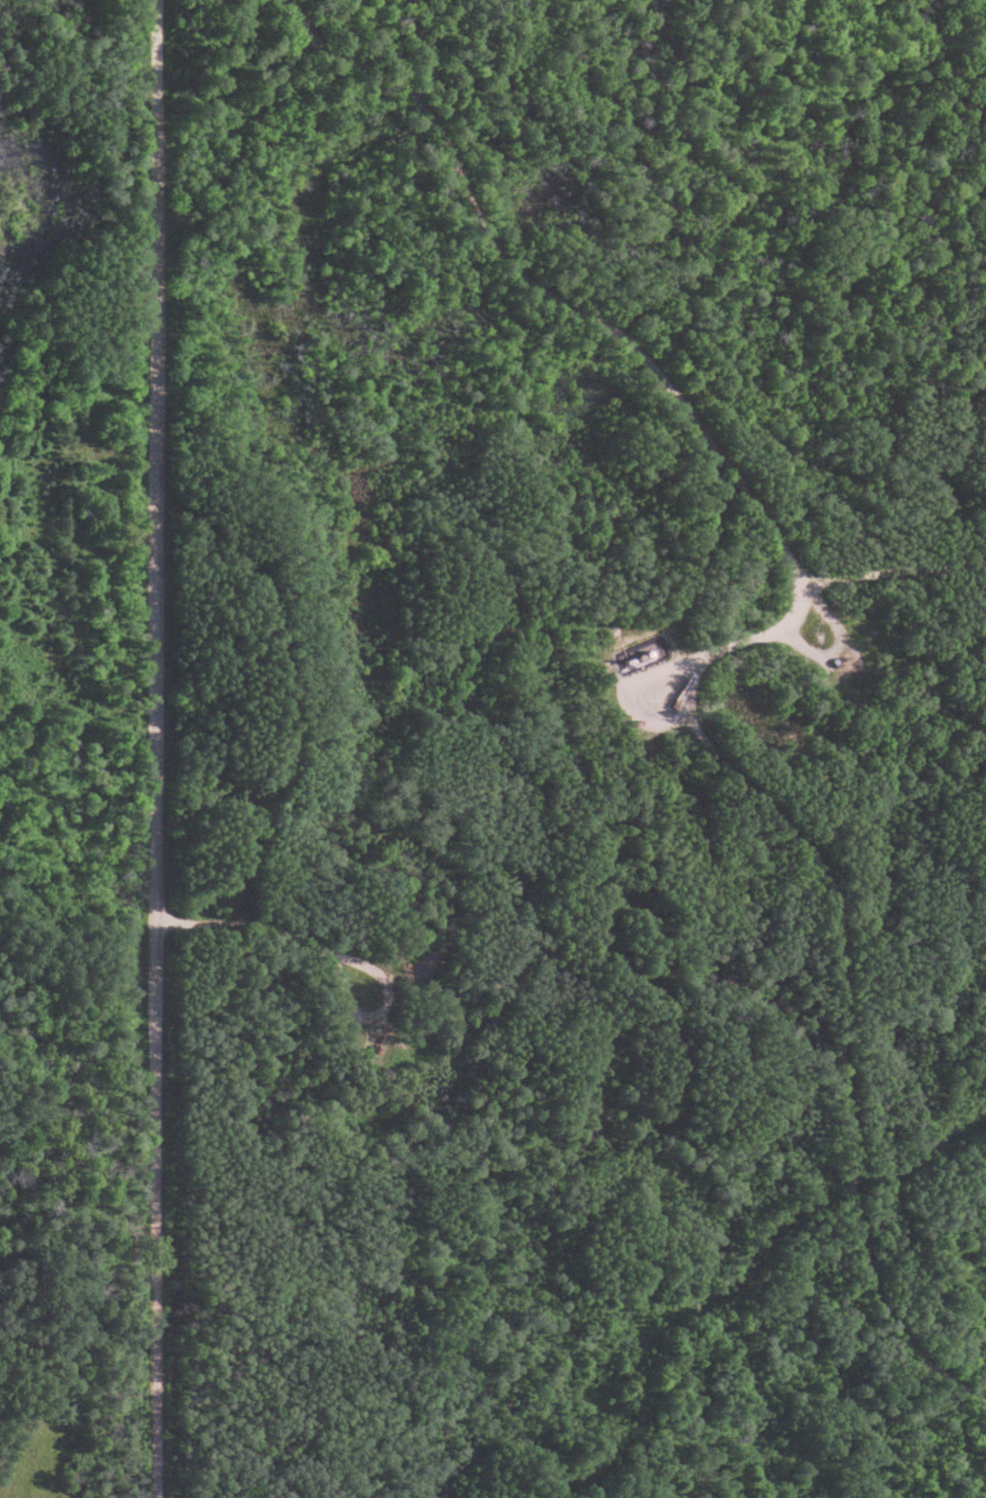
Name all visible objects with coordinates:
road: (566, 301)
road: (897, 586)
petroleum well: (848, 654)
road: (160, 749)
road: (386, 951)
petroleum well: (381, 1041)

